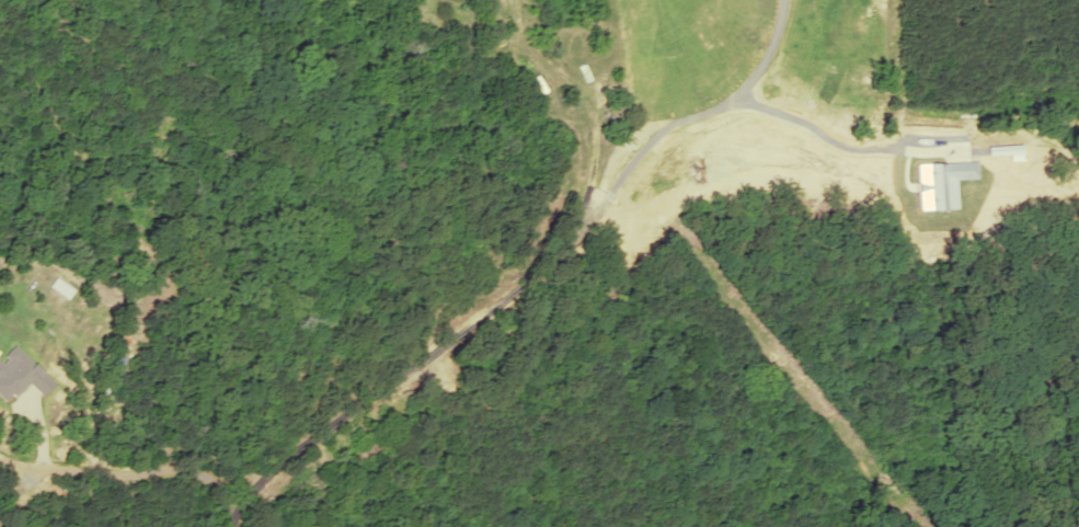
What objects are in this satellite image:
road: (413, 367)

